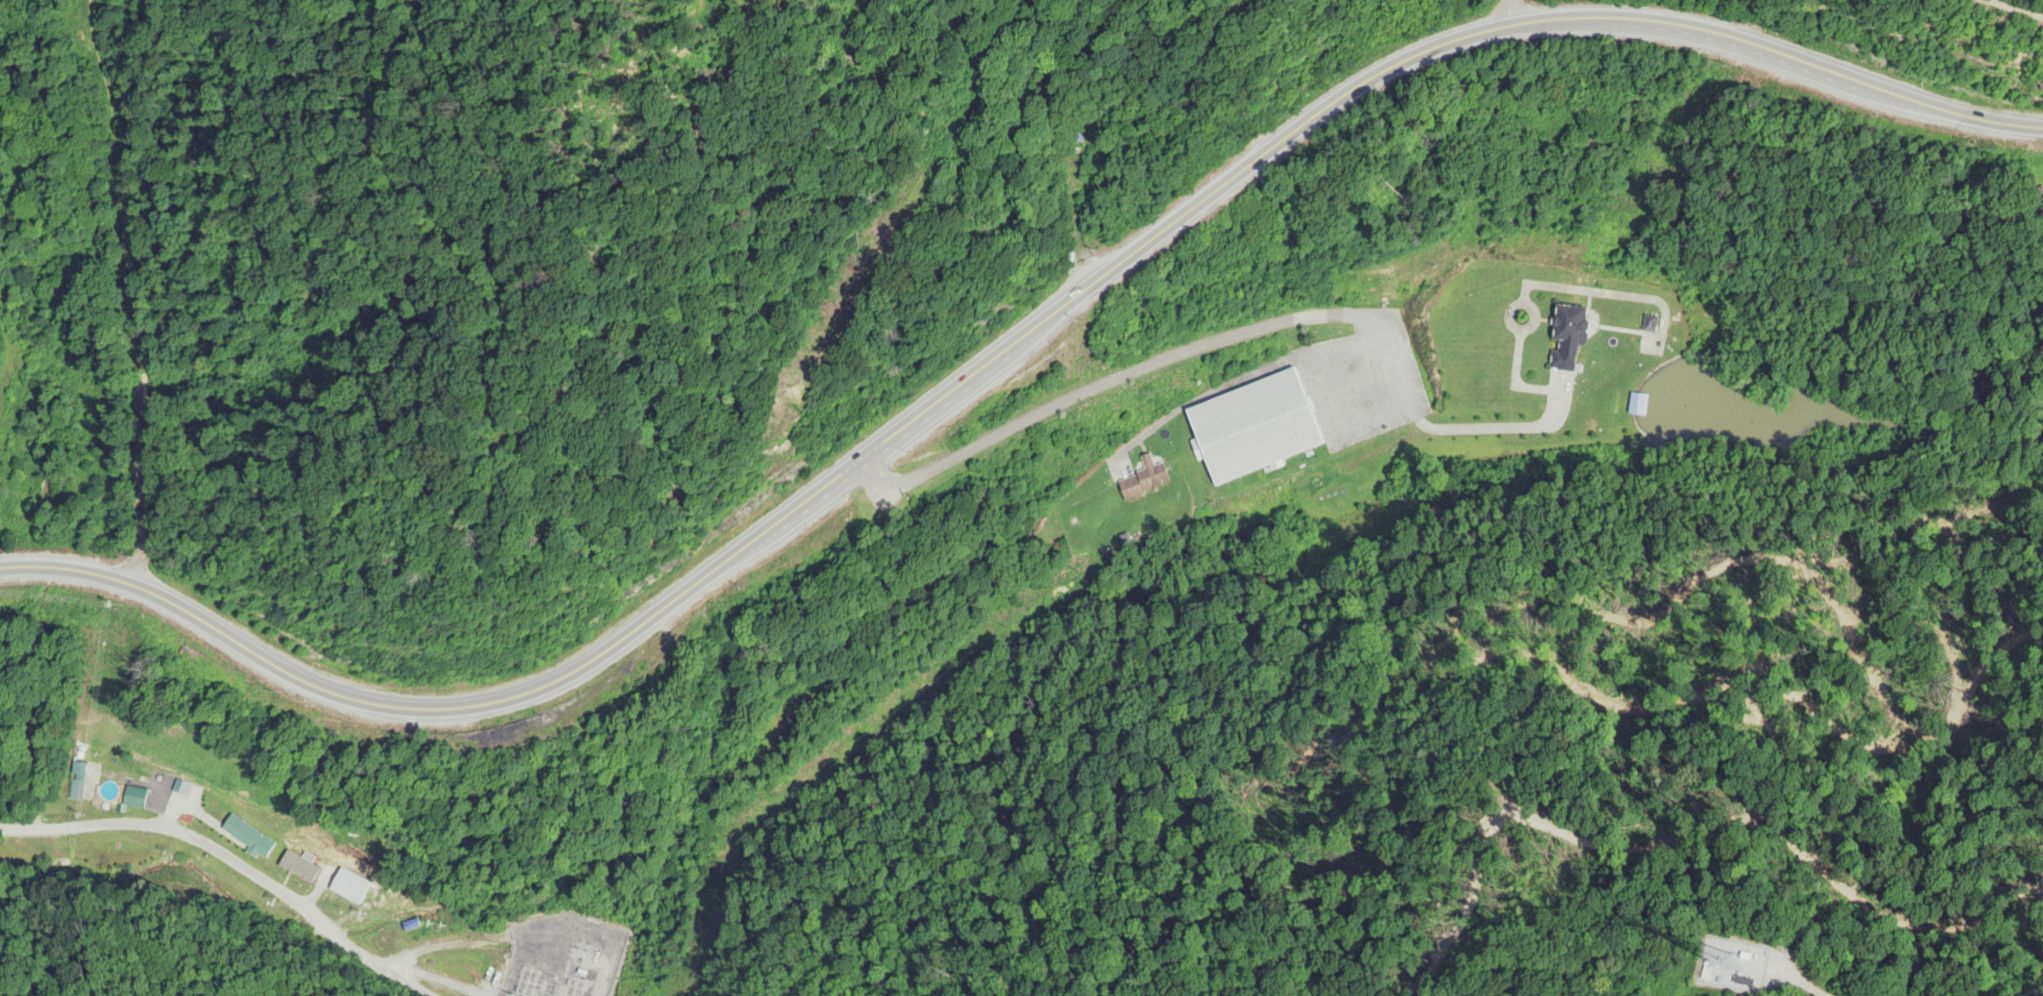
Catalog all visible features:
road: (123, 293)
building: (1567, 337)
road: (1228, 342)
road: (1004, 351)
building: (1637, 405)
building: (1253, 427)
building: (1143, 480)
building: (77, 770)
building: (179, 788)
building: (132, 798)
building: (246, 837)
road: (218, 868)
building: (347, 885)
road: (442, 944)
road: (445, 981)
road: (1799, 984)
road: (2030, 990)

